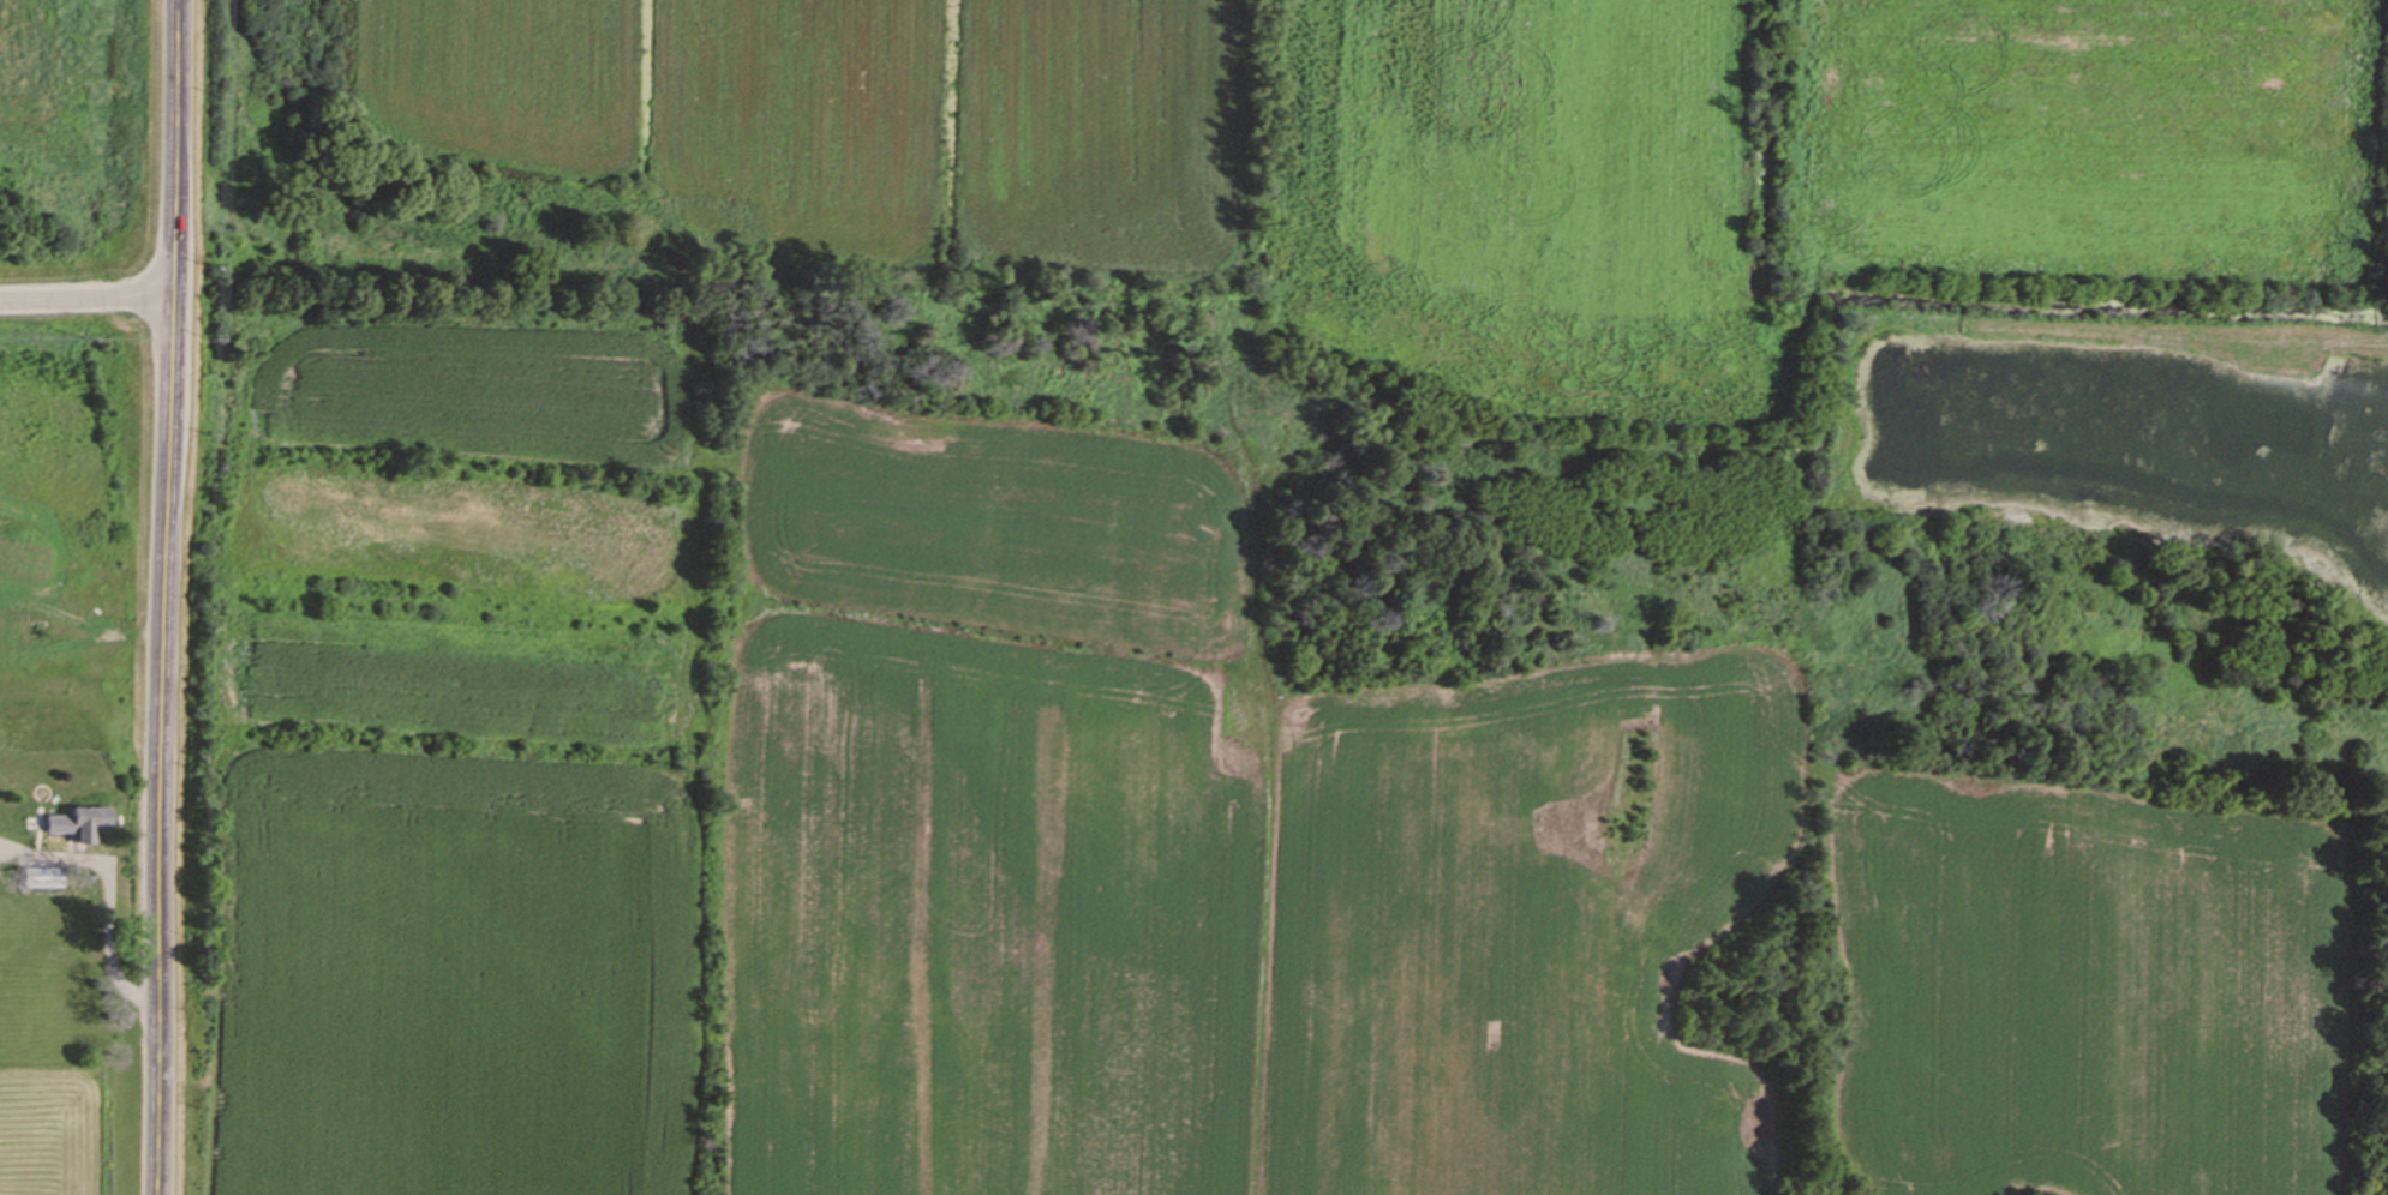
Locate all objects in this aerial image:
crop: (864, 118)
road: (86, 296)
road: (169, 597)
building: (80, 824)
crop: (1125, 846)
road: (107, 893)

